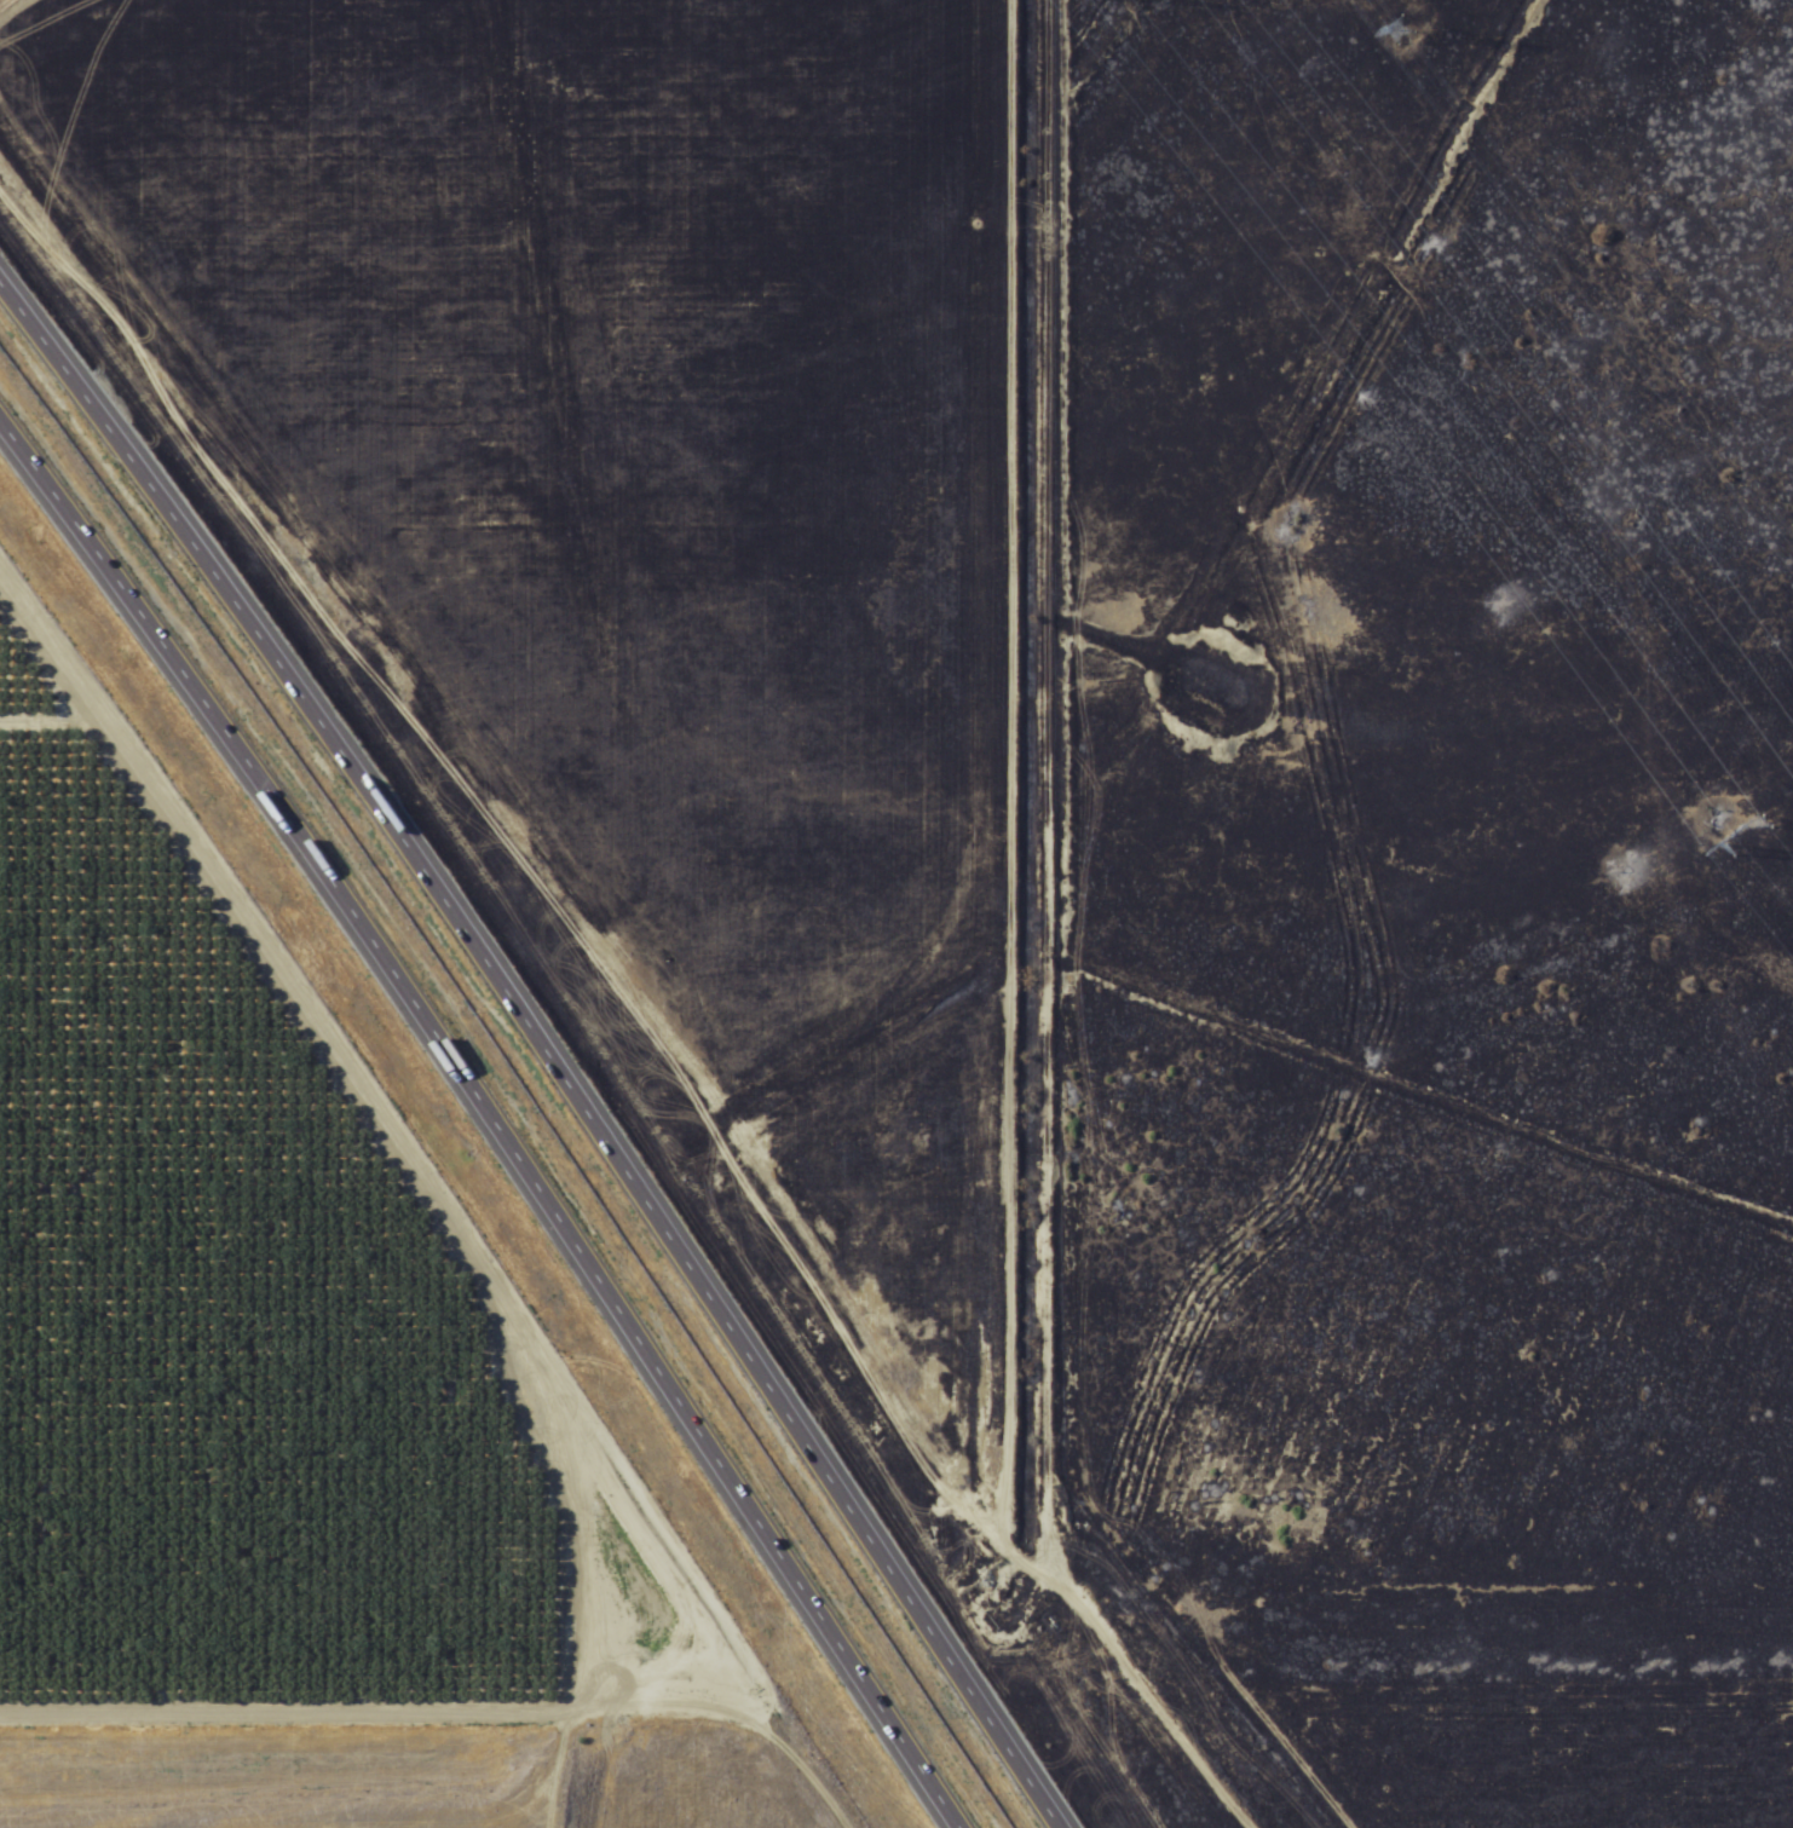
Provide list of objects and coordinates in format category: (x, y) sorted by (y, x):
power tower: (1395, 11)
road: (452, 789)
power tower: (1768, 855)
road: (986, 959)
road: (844, 1030)
road: (547, 1043)
road: (484, 1121)
crop: (230, 1319)
road: (1400, 1547)
road: (440, 1680)

